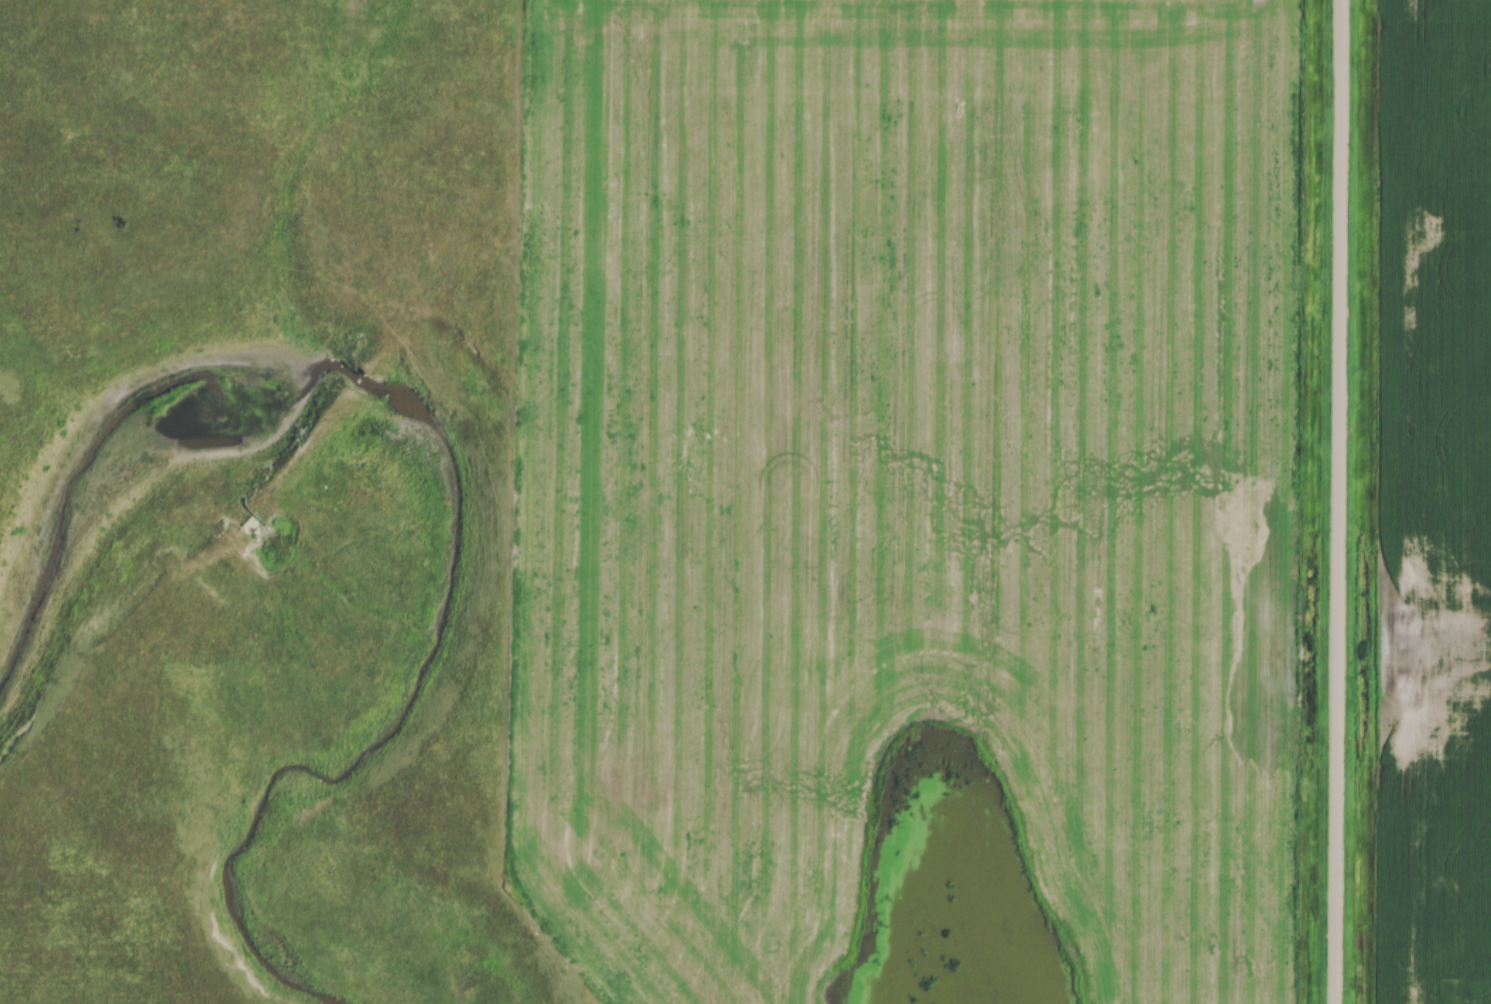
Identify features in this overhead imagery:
road: (1341, 502)

